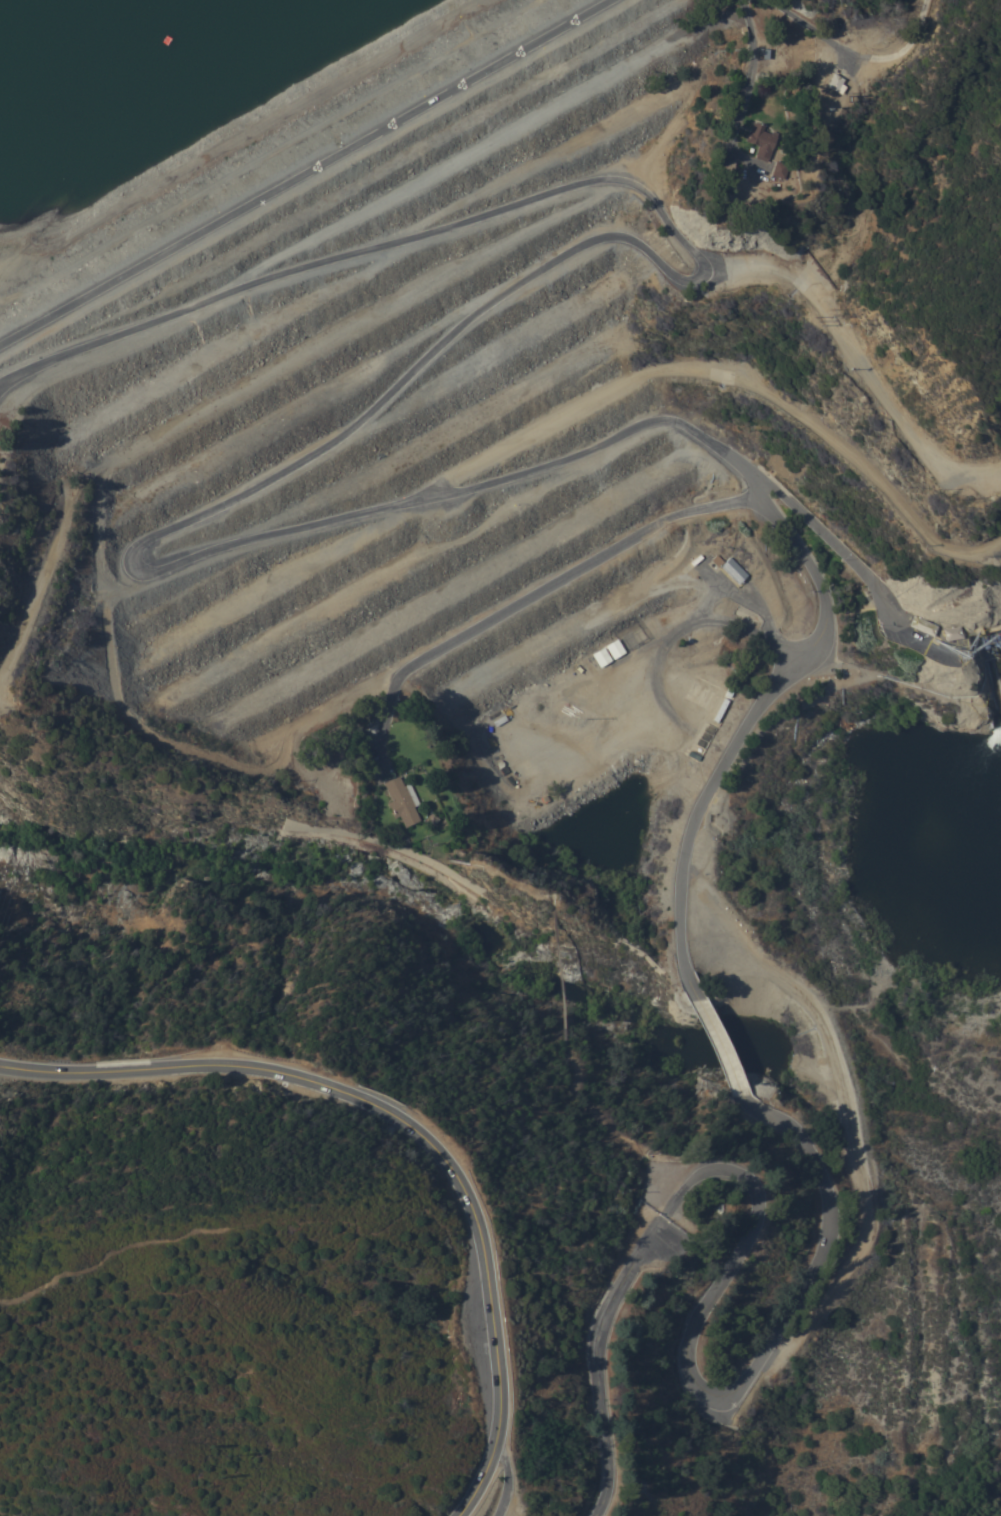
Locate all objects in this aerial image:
road: (808, 26)
road: (752, 70)
building: (834, 81)
building: (761, 139)
building: (779, 169)
road: (311, 171)
road: (402, 387)
river: (564, 401)
dam: (444, 465)
building: (735, 570)
road: (572, 571)
road: (857, 574)
building: (919, 628)
building: (946, 636)
building: (721, 709)
river: (924, 797)
building: (402, 801)
road: (699, 801)
river: (503, 942)
road: (710, 1048)
road: (761, 1109)
road: (425, 1120)
road: (736, 1252)
road: (515, 1473)

